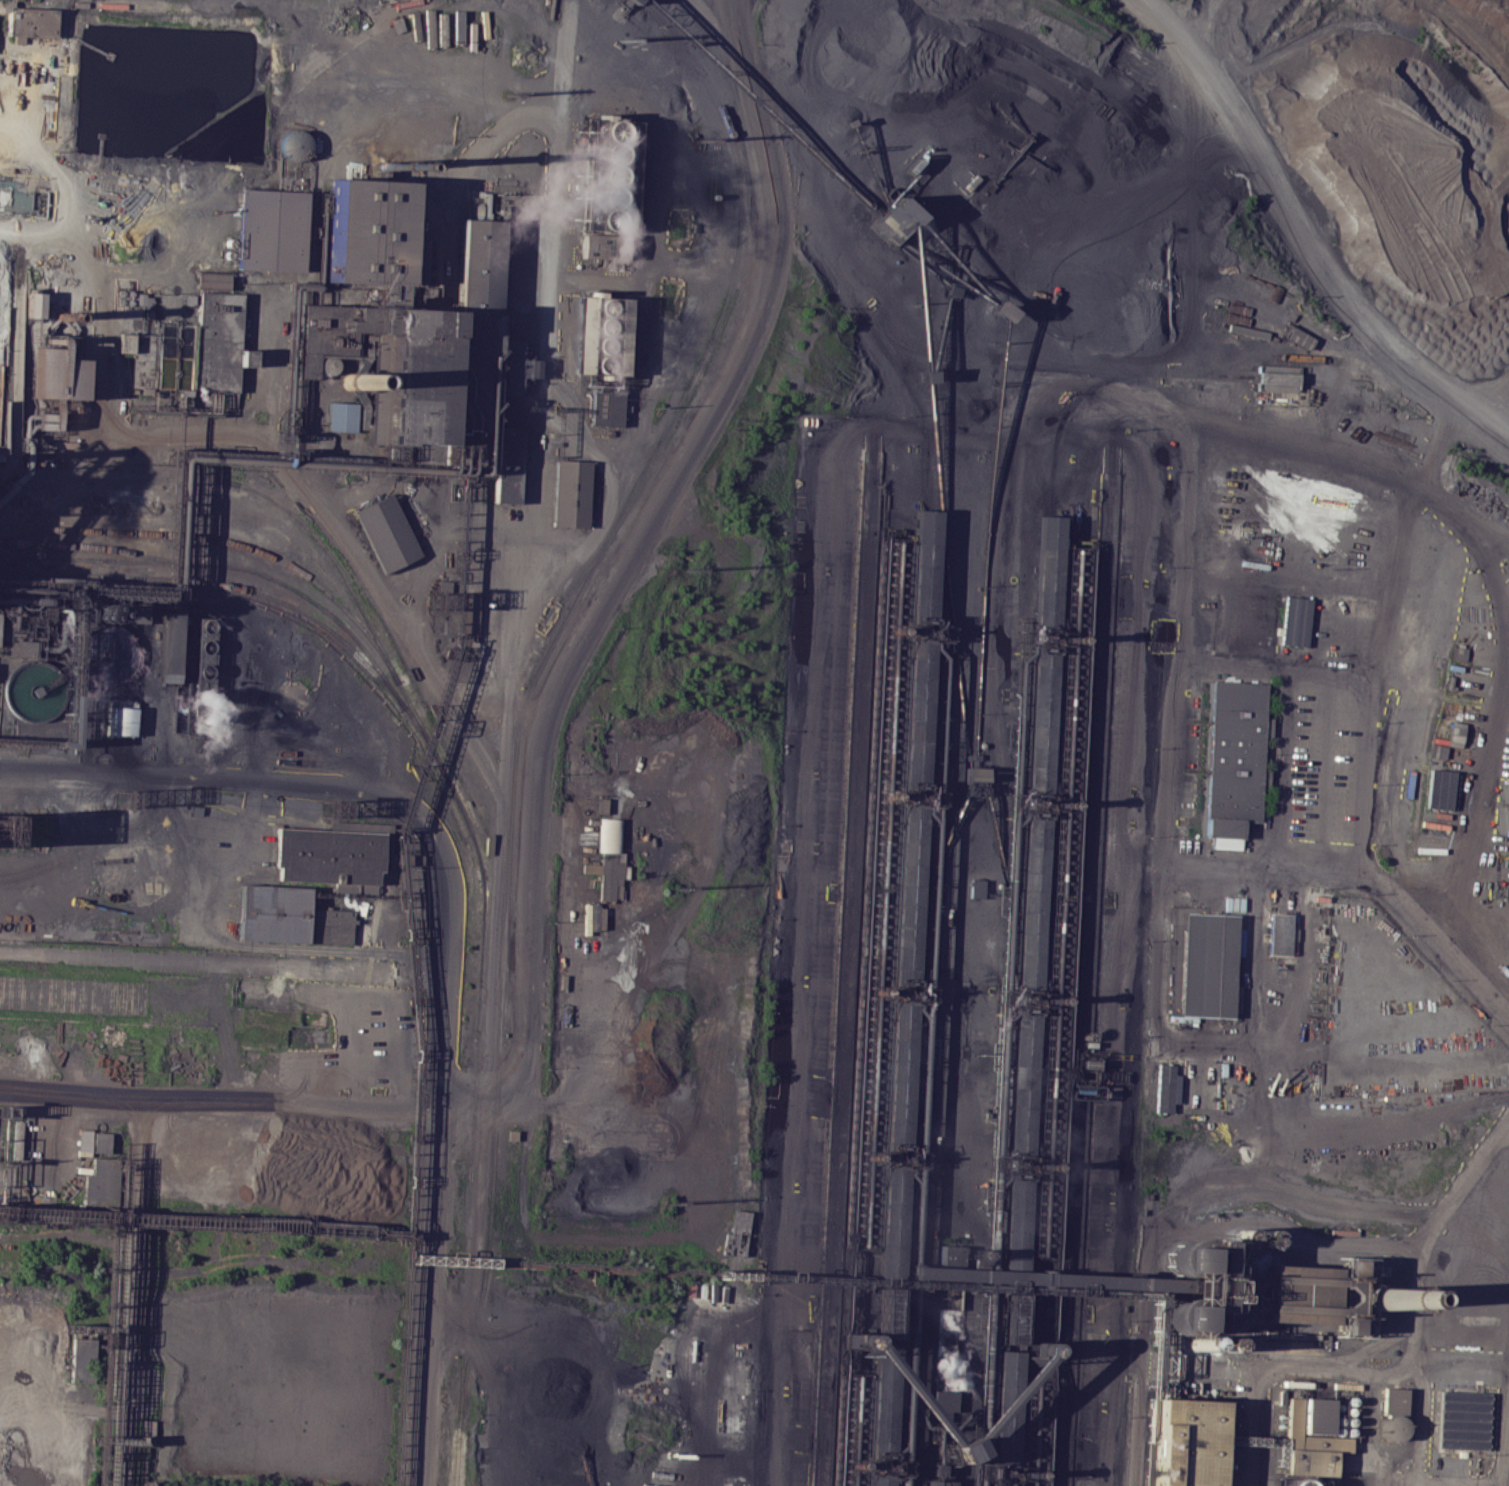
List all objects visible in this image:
building: (630, 1)
building: (30, 21)
road: (562, 51)
building: (606, 185)
road: (657, 199)
road: (441, 211)
building: (893, 218)
road: (34, 227)
building: (271, 230)
road: (1300, 243)
building: (603, 246)
building: (959, 251)
building: (479, 261)
railway: (733, 272)
building: (212, 280)
building: (948, 289)
building: (142, 299)
building: (32, 304)
building: (997, 308)
building: (131, 313)
building: (600, 334)
building: (220, 339)
building: (124, 342)
road: (1041, 353)
building: (167, 356)
railway: (1252, 356)
railway: (889, 357)
railway: (1004, 364)
building: (415, 376)
building: (925, 376)
building: (1276, 376)
railway: (1276, 377)
railway: (1332, 380)
railway: (1103, 382)
road: (103, 389)
road: (1036, 403)
road: (576, 404)
building: (605, 407)
building: (341, 417)
road: (637, 445)
road: (589, 446)
road: (1327, 448)
building: (509, 467)
road: (838, 476)
railway: (119, 479)
building: (573, 491)
road: (1462, 507)
road: (341, 531)
building: (390, 534)
railway: (226, 540)
railway: (102, 548)
road: (538, 557)
railway: (922, 562)
building: (924, 562)
railway: (230, 566)
road: (1485, 570)
building: (1047, 571)
railway: (1047, 571)
road: (1394, 582)
railway: (251, 591)
building: (138, 612)
building: (1293, 621)
railway: (919, 627)
railway: (1044, 640)
building: (1247, 642)
building: (170, 646)
building: (204, 672)
railway: (915, 709)
building: (917, 709)
building: (119, 712)
building: (1039, 723)
railway: (1040, 723)
building: (1453, 734)
building: (1234, 749)
building: (971, 756)
road: (1128, 762)
building: (975, 773)
road: (1472, 781)
road: (294, 785)
building: (1438, 789)
railway: (911, 791)
railway: (1036, 805)
railway: (469, 826)
building: (1222, 827)
building: (1427, 844)
road: (1358, 851)
building: (325, 857)
building: (591, 868)
building: (611, 873)
building: (346, 887)
building: (975, 888)
building: (908, 890)
railway: (906, 891)
road: (1465, 895)
building: (1030, 903)
railway: (1031, 903)
building: (273, 912)
building: (330, 926)
building: (1277, 934)
road: (1437, 935)
road: (235, 942)
road: (219, 963)
building: (1206, 963)
railway: (502, 968)
road: (522, 973)
railway: (901, 989)
railway: (1026, 1002)
road: (1201, 1040)
railway: (897, 1072)
building: (899, 1072)
building: (1022, 1083)
railway: (1022, 1083)
building: (1165, 1087)
road: (217, 1109)
road: (1497, 1122)
building: (84, 1142)
building: (101, 1142)
railway: (893, 1155)
railway: (1018, 1164)
road: (1453, 1191)
building: (740, 1219)
building: (1015, 1222)
railway: (890, 1223)
building: (892, 1223)
railway: (1015, 1223)
road: (431, 1230)
building: (949, 1253)
building: (1037, 1277)
building: (1195, 1286)
building: (1298, 1295)
building: (1354, 1295)
road: (132, 1296)
railway: (1011, 1311)
railway: (885, 1312)
road: (924, 1331)
building: (82, 1359)
road: (1176, 1360)
road: (1337, 1362)
road: (1405, 1369)
road: (618, 1370)
railway: (881, 1398)
building: (883, 1398)
building: (1393, 1400)
building: (1006, 1409)
railway: (1006, 1409)
building: (1462, 1420)
building: (147, 1432)
building: (1310, 1435)
building: (1184, 1442)
building: (957, 1450)
railway: (878, 1463)
railway: (1003, 1476)
railway: (877, 1480)
building: (879, 1480)
road: (1471, 1480)
building: (1294, 1482)

